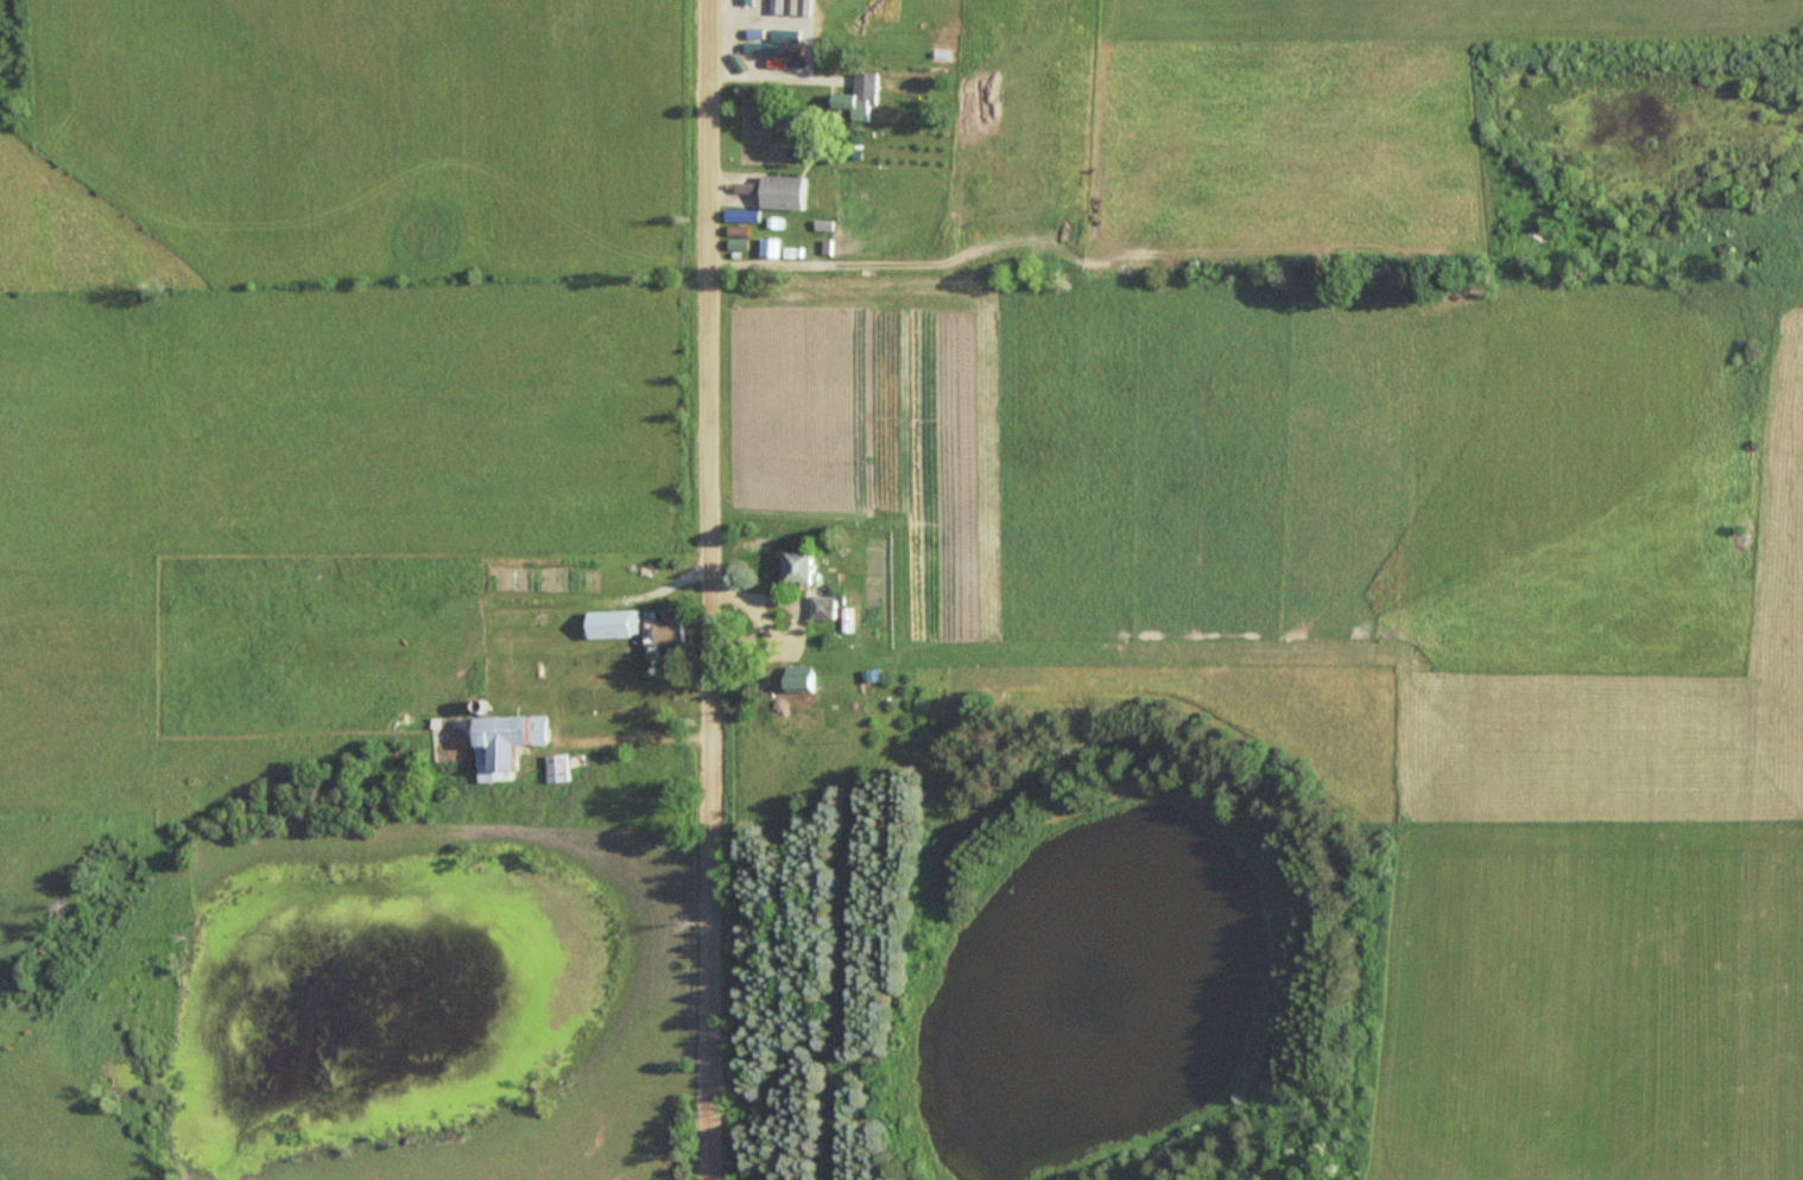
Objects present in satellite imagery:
building: (847, 17)
building: (969, 96)
building: (858, 97)
building: (782, 192)
building: (809, 265)
building: (793, 565)
road: (715, 590)
building: (822, 607)
building: (611, 623)
building: (665, 626)
building: (500, 740)
building: (328, 742)
building: (552, 767)

